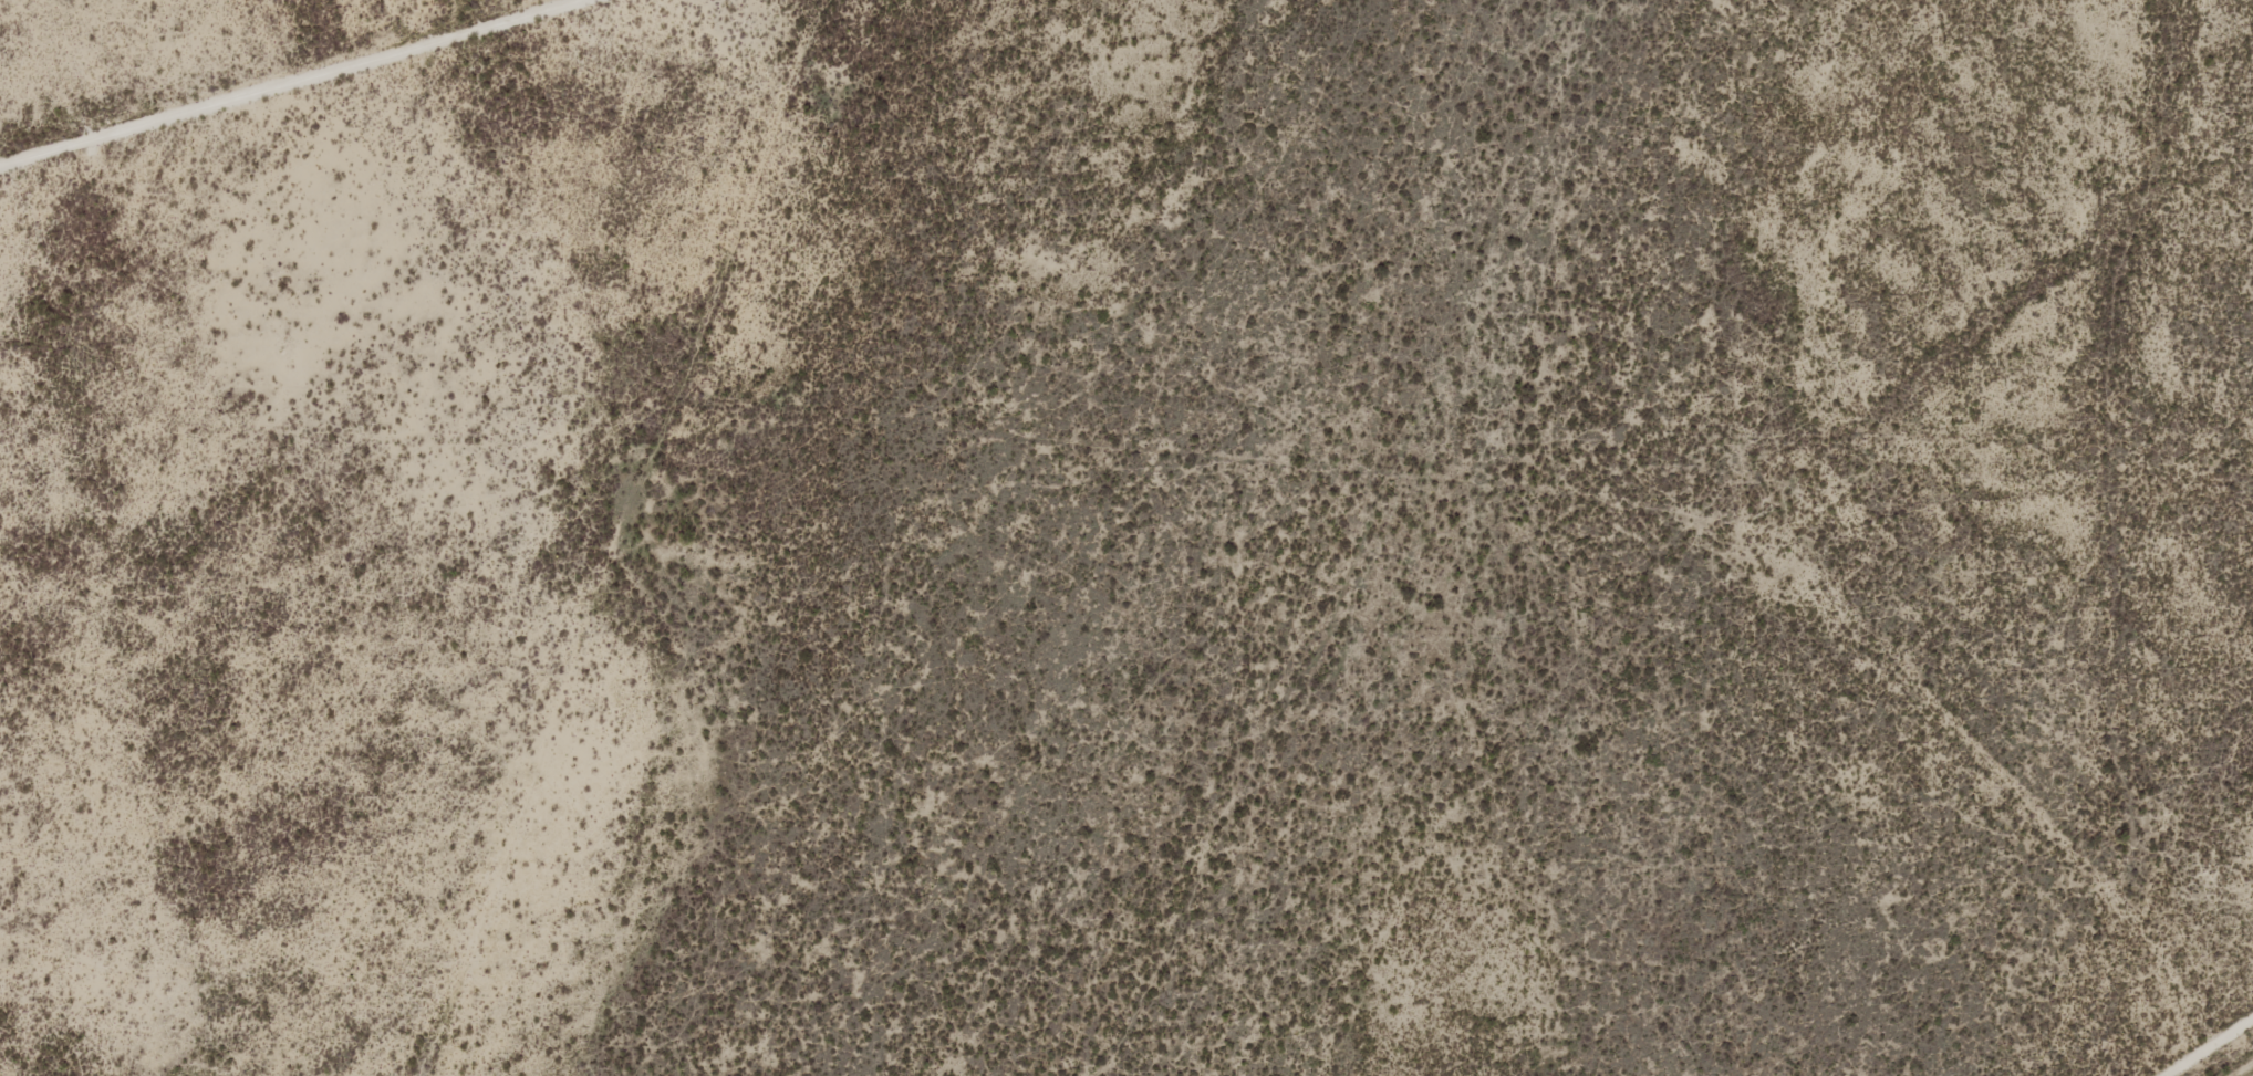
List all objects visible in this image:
road: (320, 91)

